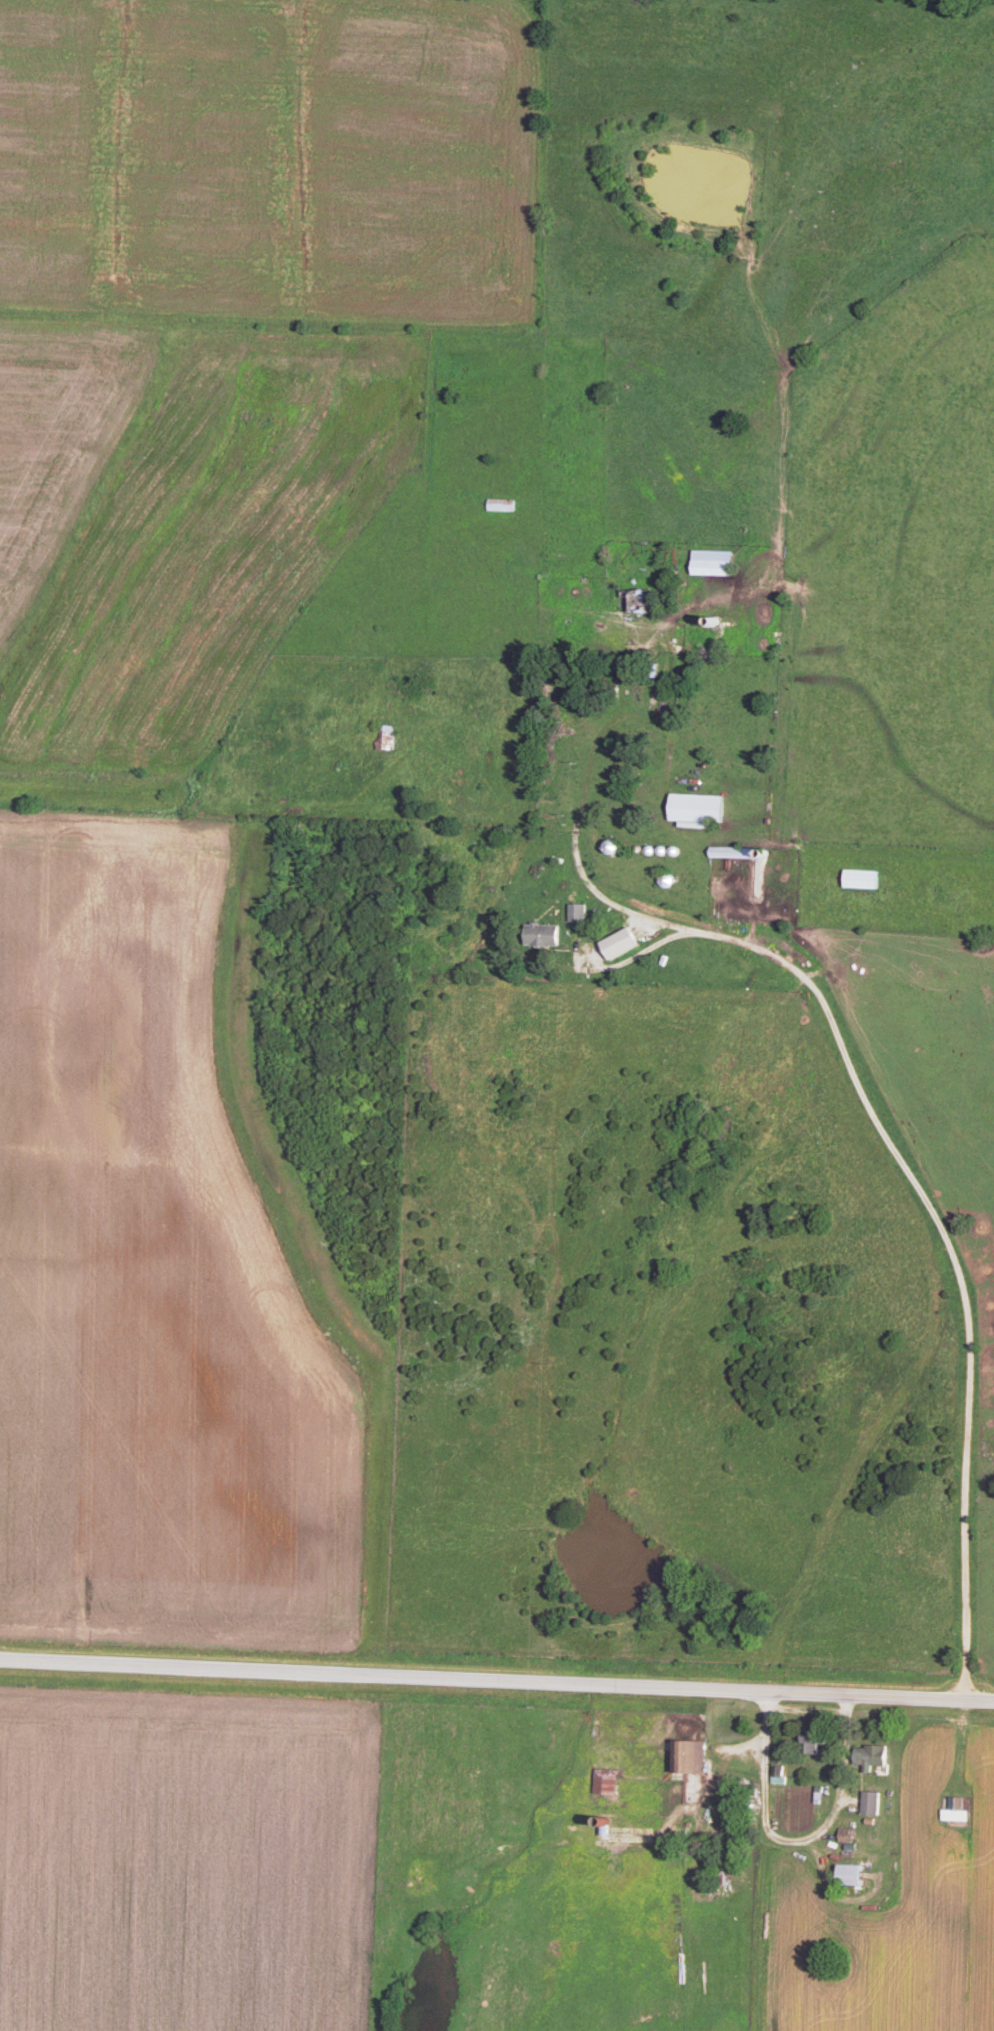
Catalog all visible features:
building: (716, 560)
building: (701, 805)
building: (864, 876)
building: (579, 909)
building: (546, 932)
building: (623, 940)
road: (917, 1180)
road: (497, 1679)
building: (694, 1754)
building: (872, 1754)
building: (779, 1771)
building: (607, 1778)
building: (872, 1800)
building: (957, 1807)
road: (794, 1842)
building: (854, 1872)

